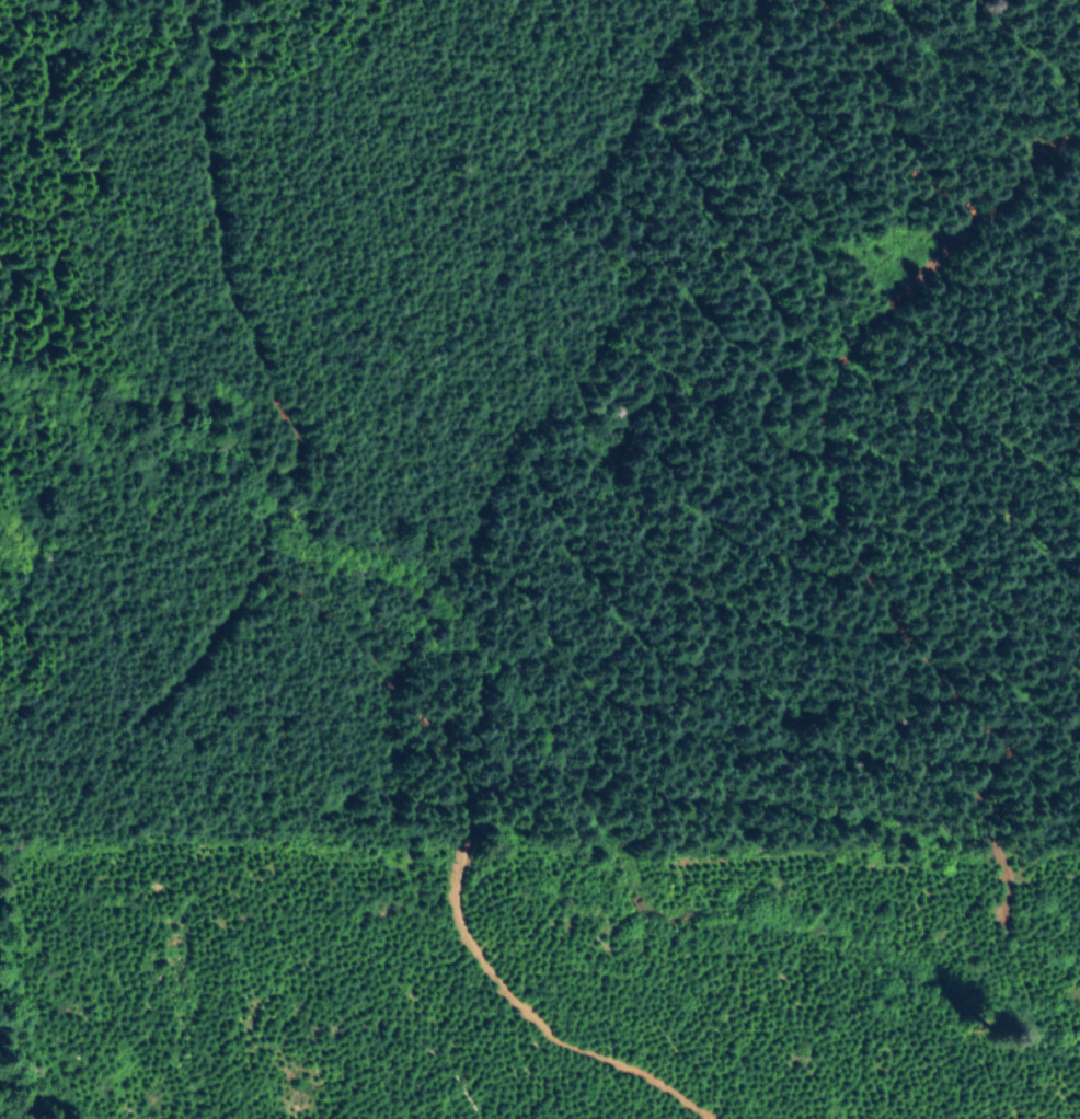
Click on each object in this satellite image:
road: (937, 154)
road: (335, 615)

